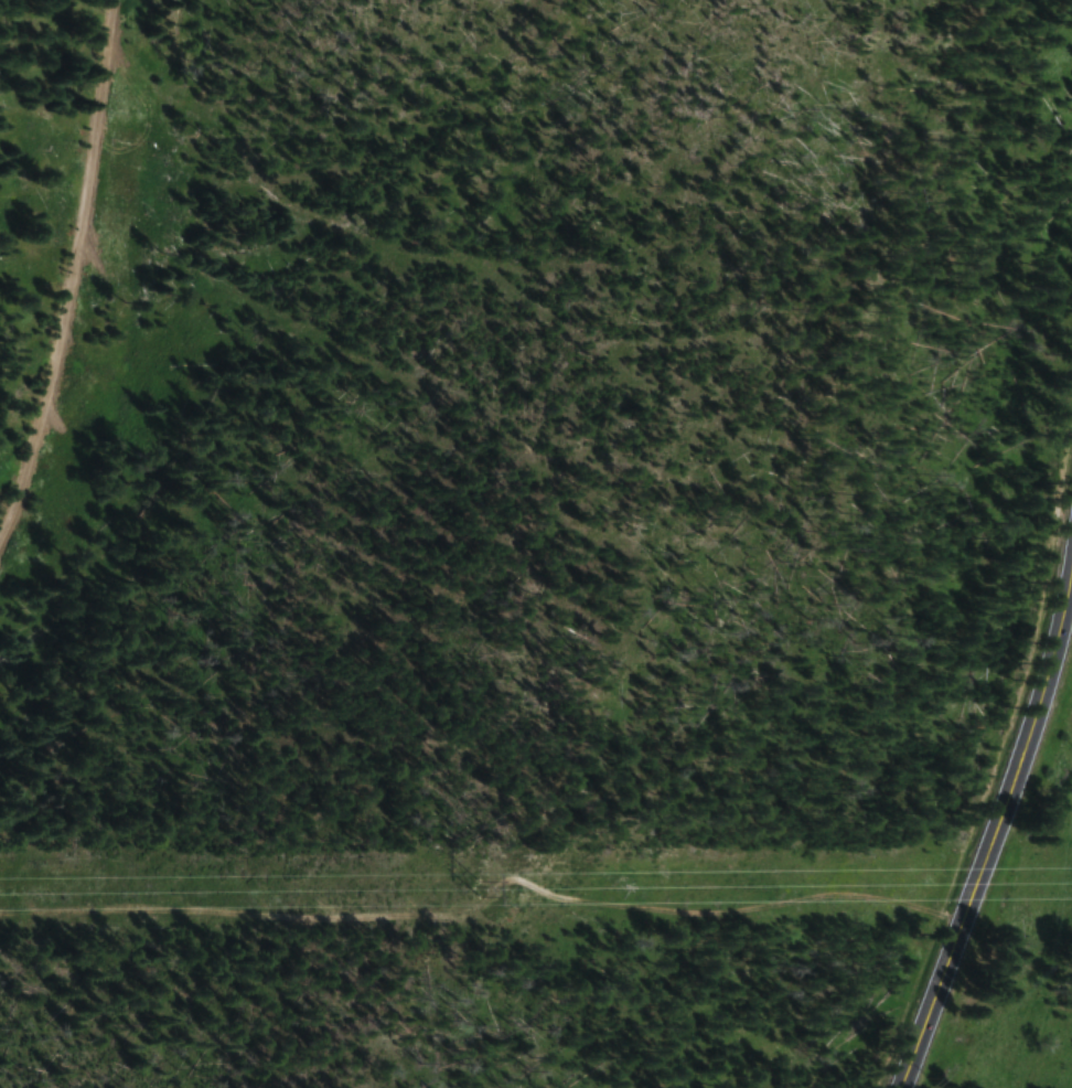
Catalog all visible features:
road: (989, 824)
power tower: (478, 889)

